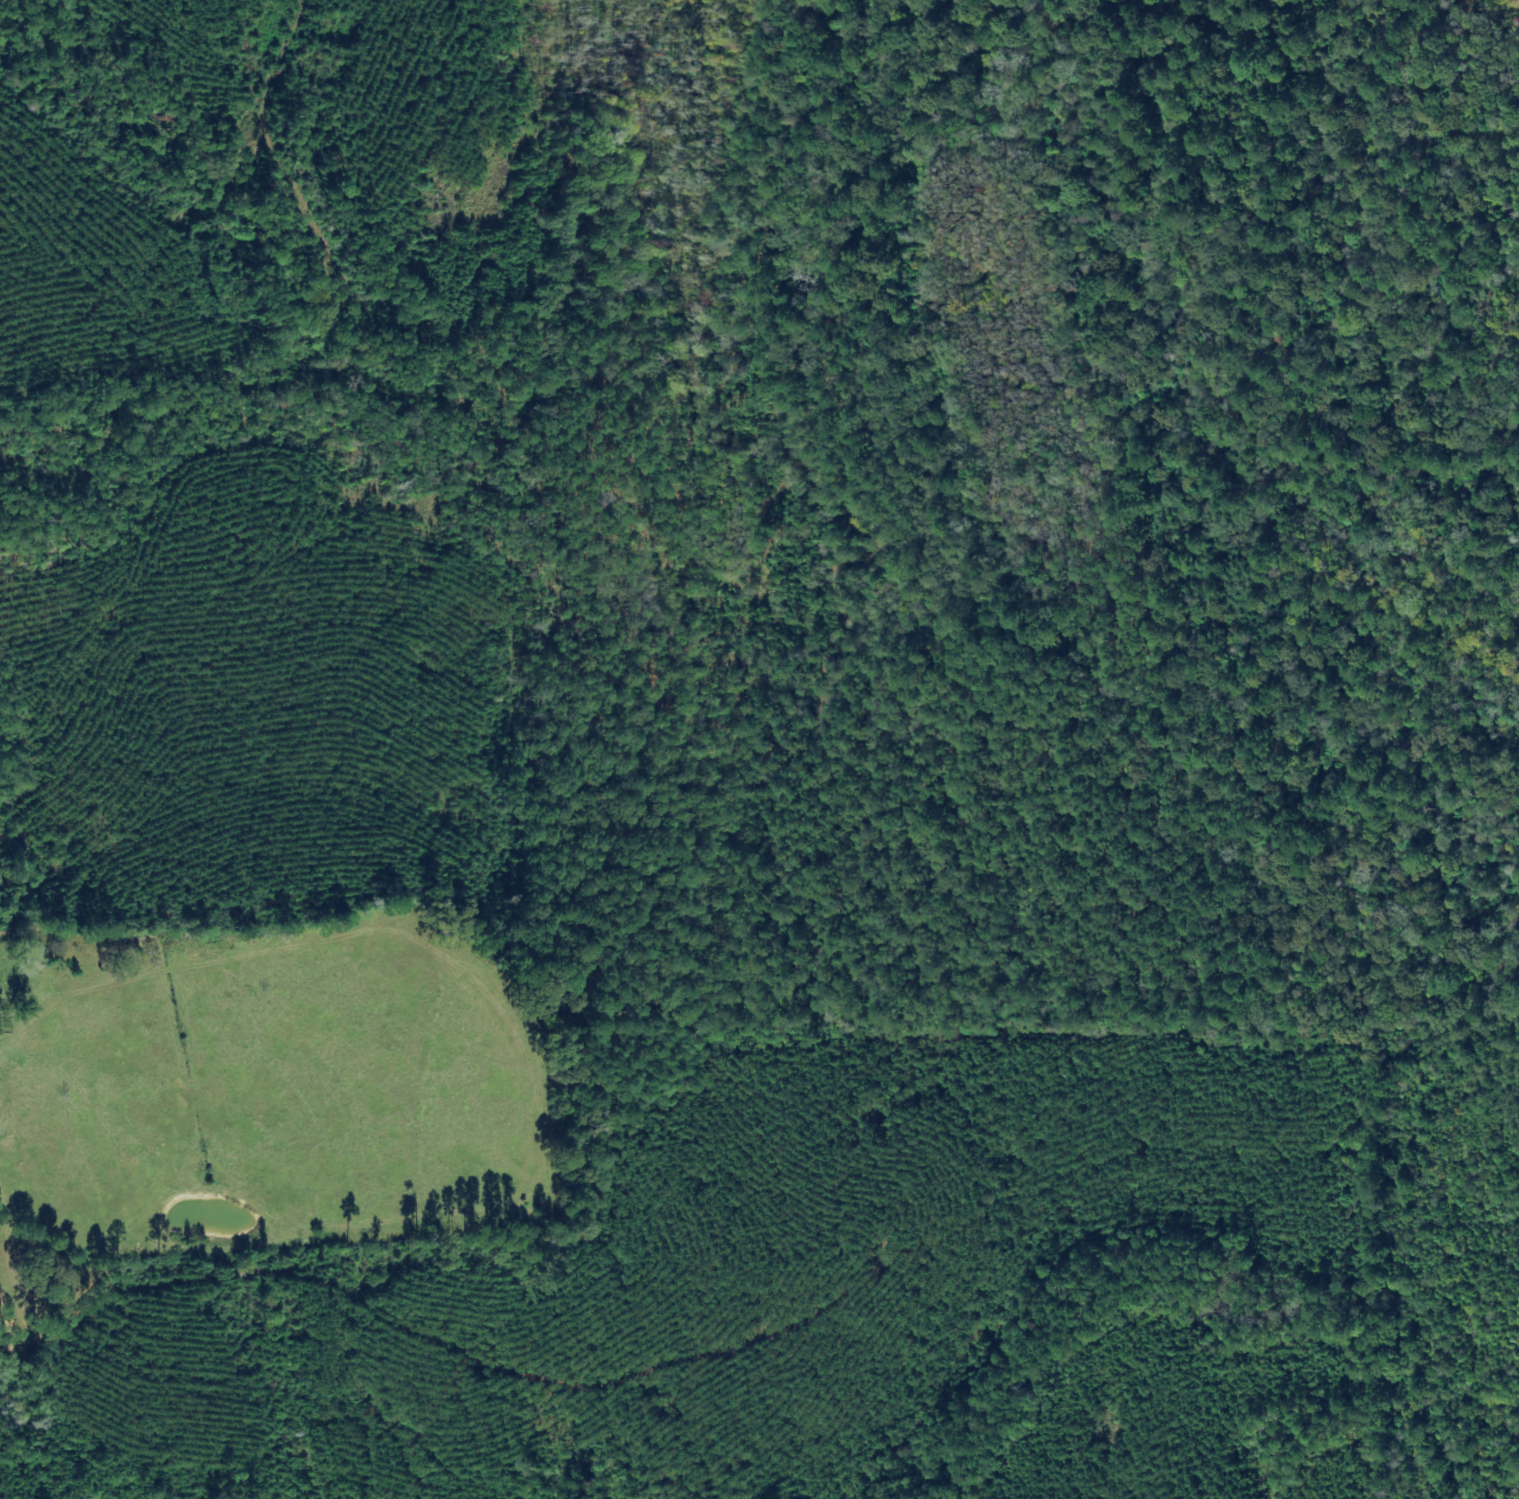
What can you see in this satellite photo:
road: (15, 85)
road: (9, 268)

